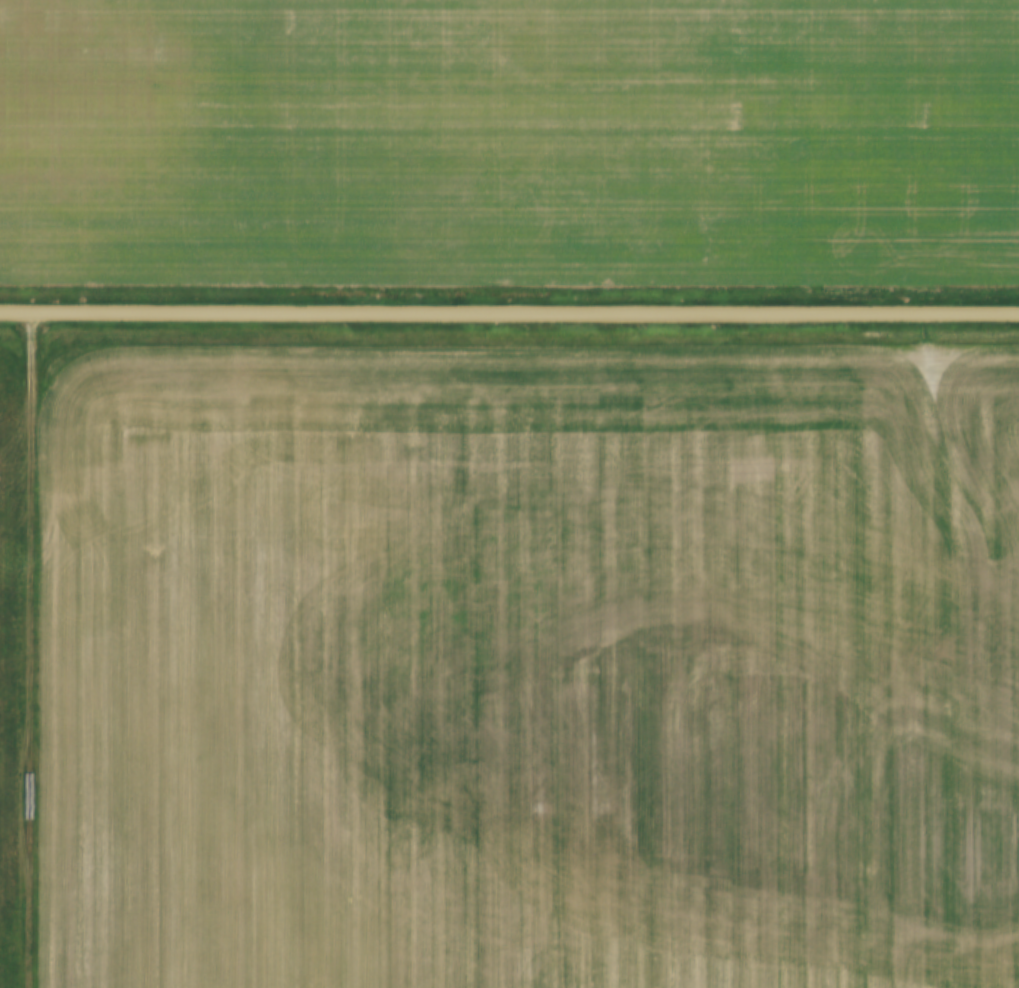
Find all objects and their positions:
road: (509, 318)
road: (30, 652)

